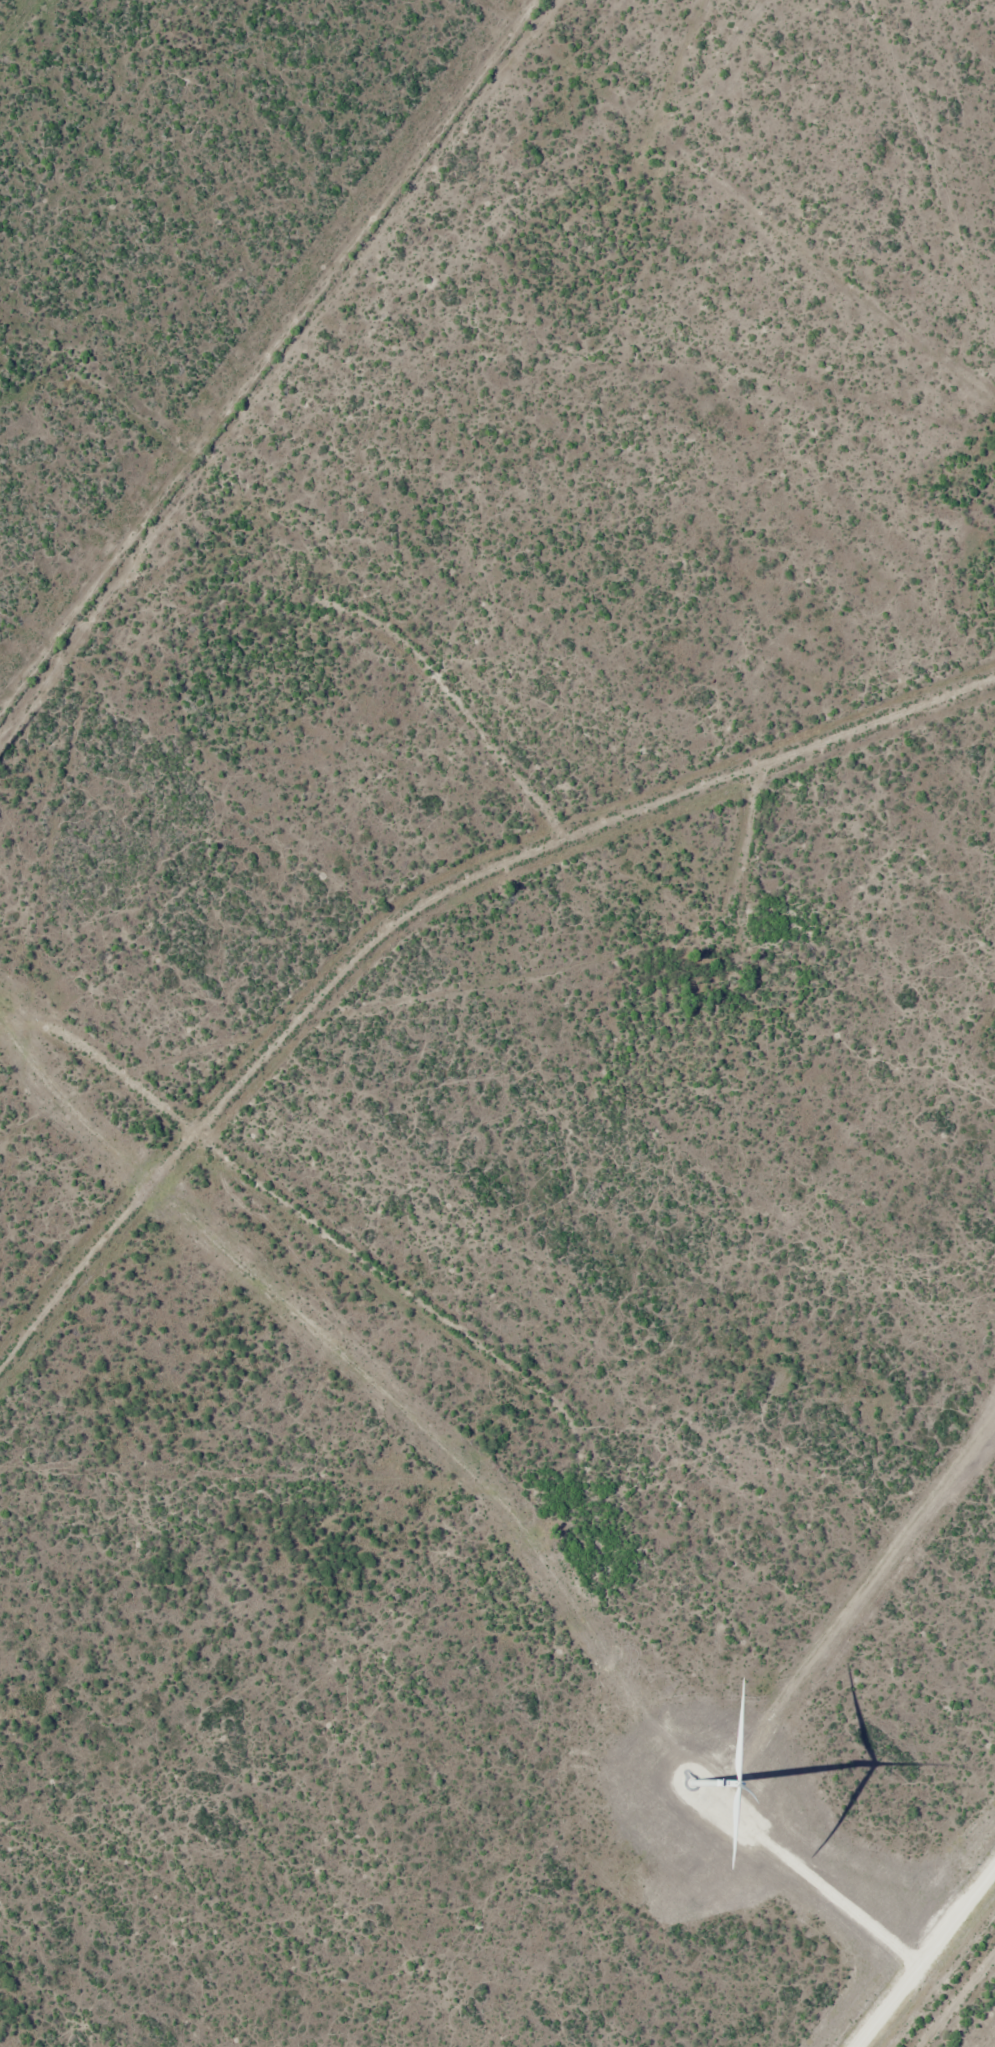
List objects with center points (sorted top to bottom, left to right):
road: (424, 962)
wind turbine: (696, 1783)
road: (969, 2015)

